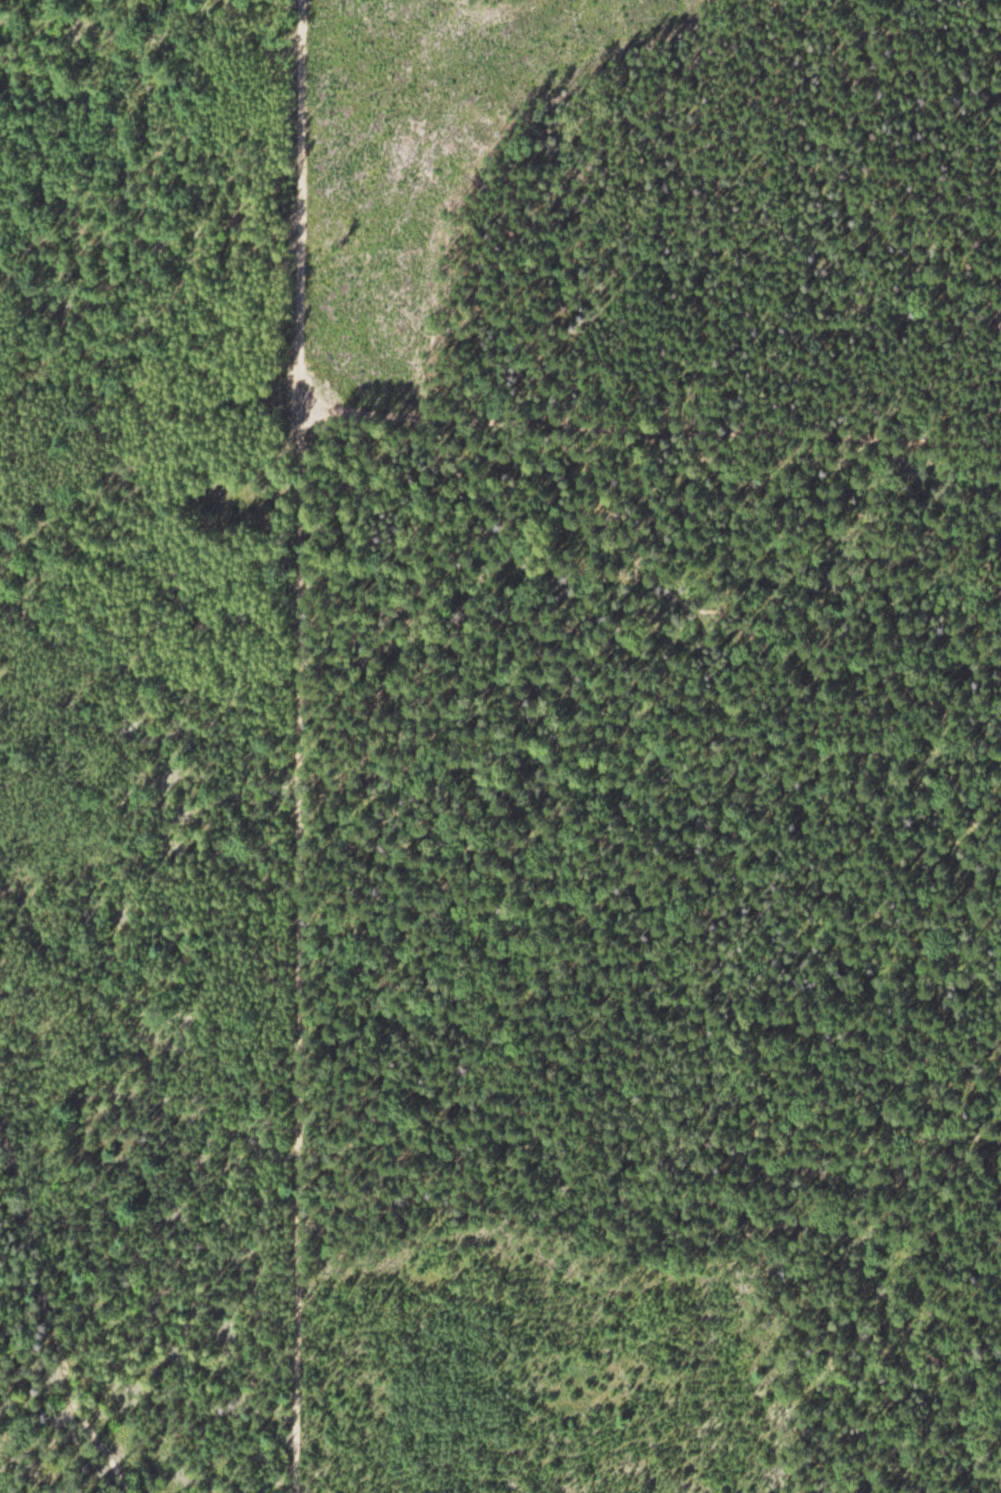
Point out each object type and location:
road: (648, 429)
road: (857, 691)
road: (298, 746)
road: (50, 1314)

